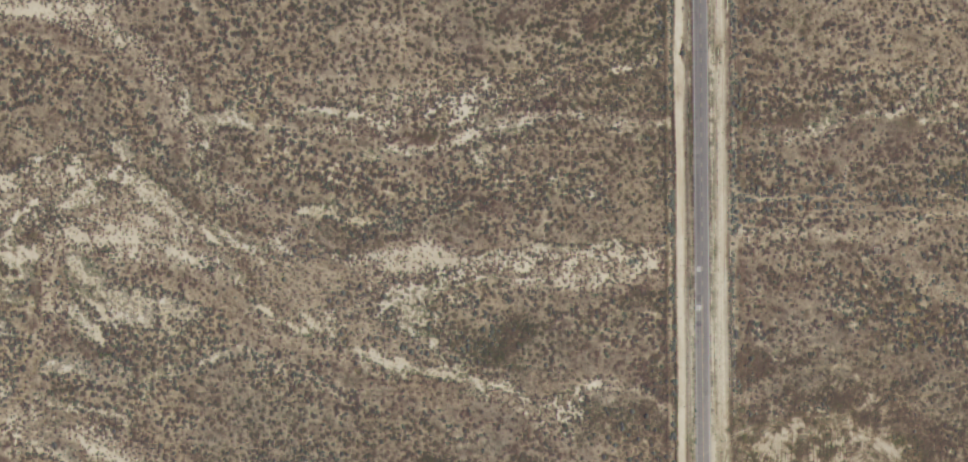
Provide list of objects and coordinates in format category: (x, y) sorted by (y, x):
road: (698, 231)

